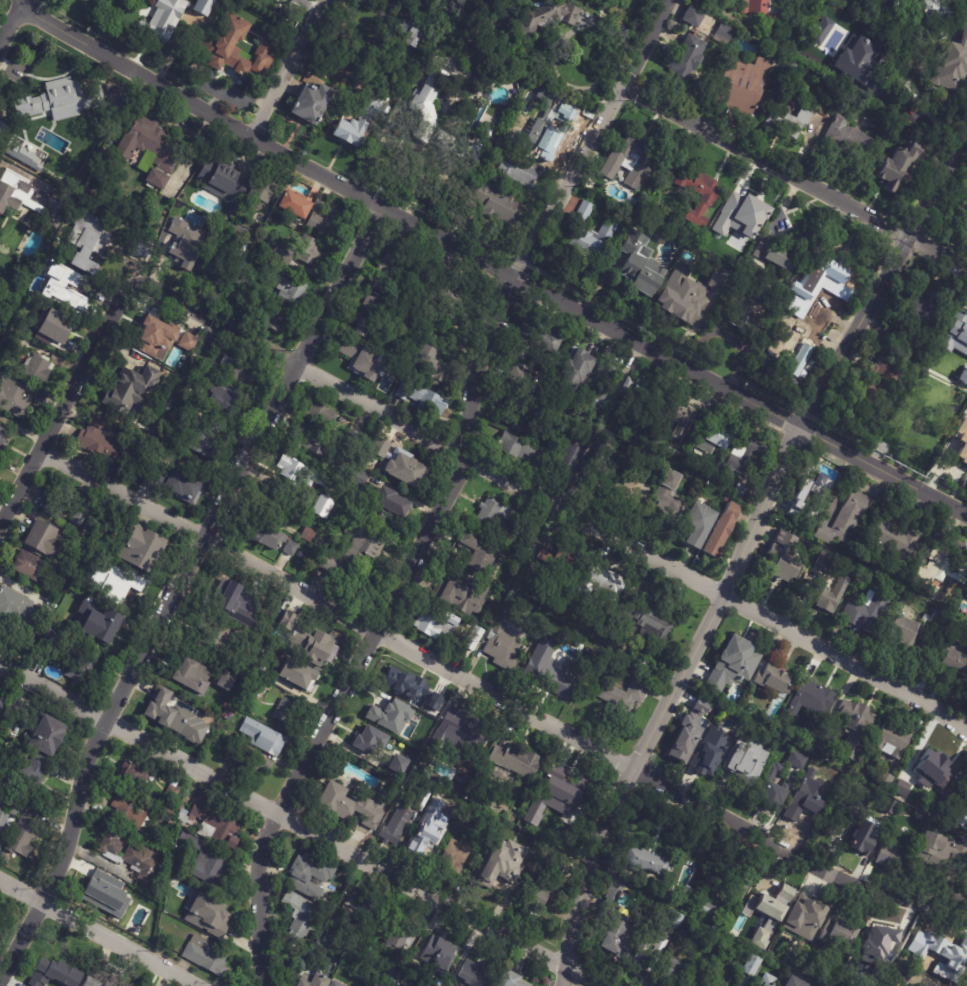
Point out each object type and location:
road: (21, 0)
road: (22, 0)
building: (894, 3)
road: (308, 6)
building: (204, 7)
building: (931, 11)
building: (761, 14)
building: (546, 17)
building: (690, 18)
building: (163, 20)
road: (12, 25)
building: (819, 31)
building: (413, 32)
building: (723, 34)
road: (564, 36)
building: (844, 45)
building: (239, 48)
building: (686, 58)
building: (952, 65)
building: (862, 66)
road: (289, 69)
building: (741, 87)
road: (921, 100)
building: (58, 102)
building: (312, 103)
building: (429, 106)
building: (789, 121)
building: (359, 123)
building: (546, 136)
building: (846, 140)
building: (473, 147)
building: (153, 150)
building: (26, 157)
building: (633, 160)
building: (898, 163)
building: (520, 172)
road: (794, 175)
building: (225, 180)
building: (262, 192)
building: (16, 201)
building: (708, 201)
building: (296, 204)
building: (501, 206)
building: (325, 218)
road: (407, 220)
building: (743, 222)
building: (292, 225)
building: (965, 225)
building: (590, 231)
building: (245, 233)
building: (186, 238)
building: (90, 241)
building: (709, 245)
building: (143, 248)
building: (278, 250)
building: (240, 251)
building: (313, 251)
building: (781, 254)
building: (643, 267)
building: (218, 269)
building: (395, 271)
building: (826, 276)
building: (246, 279)
building: (265, 282)
building: (67, 290)
building: (293, 291)
building: (238, 292)
building: (268, 294)
building: (691, 296)
building: (373, 302)
building: (790, 315)
building: (743, 317)
building: (277, 320)
building: (931, 322)
building: (366, 327)
building: (59, 330)
building: (955, 334)
building: (540, 337)
building: (157, 338)
building: (190, 342)
building: (208, 350)
building: (365, 361)
building: (433, 367)
building: (577, 367)
building: (39, 369)
building: (240, 371)
building: (963, 376)
building: (199, 377)
building: (526, 379)
building: (602, 385)
building: (874, 385)
building: (133, 388)
building: (641, 391)
building: (540, 392)
building: (16, 397)
building: (424, 397)
building: (227, 398)
road: (67, 404)
building: (576, 412)
building: (519, 414)
building: (322, 415)
building: (676, 415)
building: (560, 419)
building: (573, 426)
building: (204, 434)
building: (716, 437)
building: (106, 441)
building: (961, 441)
building: (312, 442)
building: (4, 443)
building: (521, 449)
building: (674, 456)
building: (571, 458)
building: (745, 458)
building: (402, 463)
building: (602, 464)
building: (684, 465)
road: (883, 471)
building: (302, 478)
building: (359, 478)
building: (157, 480)
building: (186, 486)
road: (450, 490)
building: (639, 490)
building: (814, 490)
building: (744, 491)
building: (670, 497)
building: (76, 503)
road: (554, 505)
building: (326, 507)
building: (386, 508)
building: (50, 509)
building: (496, 513)
building: (843, 519)
building: (698, 526)
building: (723, 530)
building: (309, 535)
building: (891, 537)
building: (266, 539)
building: (46, 540)
building: (322, 544)
building: (526, 544)
building: (291, 548)
building: (358, 549)
building: (145, 551)
building: (481, 553)
road: (741, 553)
building: (780, 557)
building: (561, 559)
building: (818, 560)
building: (30, 566)
building: (936, 572)
building: (117, 579)
building: (68, 580)
building: (604, 585)
road: (176, 587)
building: (462, 592)
building: (966, 595)
building: (827, 596)
building: (236, 597)
building: (19, 610)
building: (862, 613)
building: (939, 619)
building: (439, 625)
building: (650, 625)
building: (100, 626)
building: (902, 630)
building: (506, 637)
building: (223, 638)
building: (477, 639)
building: (321, 647)
building: (89, 649)
building: (948, 656)
building: (731, 664)
building: (262, 665)
building: (82, 670)
building: (551, 671)
building: (298, 675)
building: (195, 676)
building: (770, 677)
building: (228, 681)
building: (395, 682)
building: (427, 694)
building: (627, 696)
road: (499, 697)
building: (811, 701)
building: (3, 703)
building: (15, 709)
building: (285, 711)
building: (385, 712)
building: (229, 717)
building: (417, 717)
building: (180, 721)
building: (852, 727)
building: (698, 733)
building: (462, 734)
building: (50, 736)
building: (265, 738)
building: (368, 738)
building: (890, 740)
building: (393, 744)
building: (823, 745)
building: (403, 746)
building: (709, 751)
building: (519, 760)
building: (742, 761)
building: (250, 762)
building: (397, 763)
building: (931, 770)
building: (27, 771)
building: (782, 771)
building: (134, 773)
building: (817, 773)
building: (883, 780)
building: (175, 790)
building: (900, 790)
building: (812, 794)
building: (567, 795)
building: (425, 800)
building: (352, 804)
building: (17, 805)
building: (847, 806)
building: (959, 807)
building: (130, 810)
building: (465, 818)
building: (918, 818)
building: (210, 823)
building: (4, 825)
road: (301, 825)
building: (398, 826)
building: (27, 832)
building: (863, 836)
building: (502, 840)
building: (422, 843)
building: (888, 851)
building: (935, 852)
building: (459, 853)
building: (131, 855)
building: (206, 861)
building: (642, 861)
building: (560, 862)
building: (966, 867)
building: (505, 875)
building: (312, 876)
building: (733, 877)
building: (103, 894)
building: (539, 897)
building: (679, 897)
building: (772, 899)
building: (358, 909)
building: (705, 910)
building: (303, 914)
building: (210, 915)
building: (667, 918)
building: (806, 918)
building: (614, 925)
building: (963, 929)
road: (98, 933)
building: (838, 934)
building: (401, 935)
building: (332, 940)
building: (647, 951)
building: (874, 951)
building: (937, 951)
building: (439, 953)
building: (208, 955)
building: (750, 965)
building: (412, 971)
building: (670, 971)
building: (58, 972)
building: (395, 973)
building: (473, 974)
building: (102, 979)
building: (514, 979)
building: (765, 980)
building: (316, 981)
building: (35, 982)
building: (788, 982)
building: (332, 984)
building: (379, 984)
building: (924, 984)
building: (447, 985)

